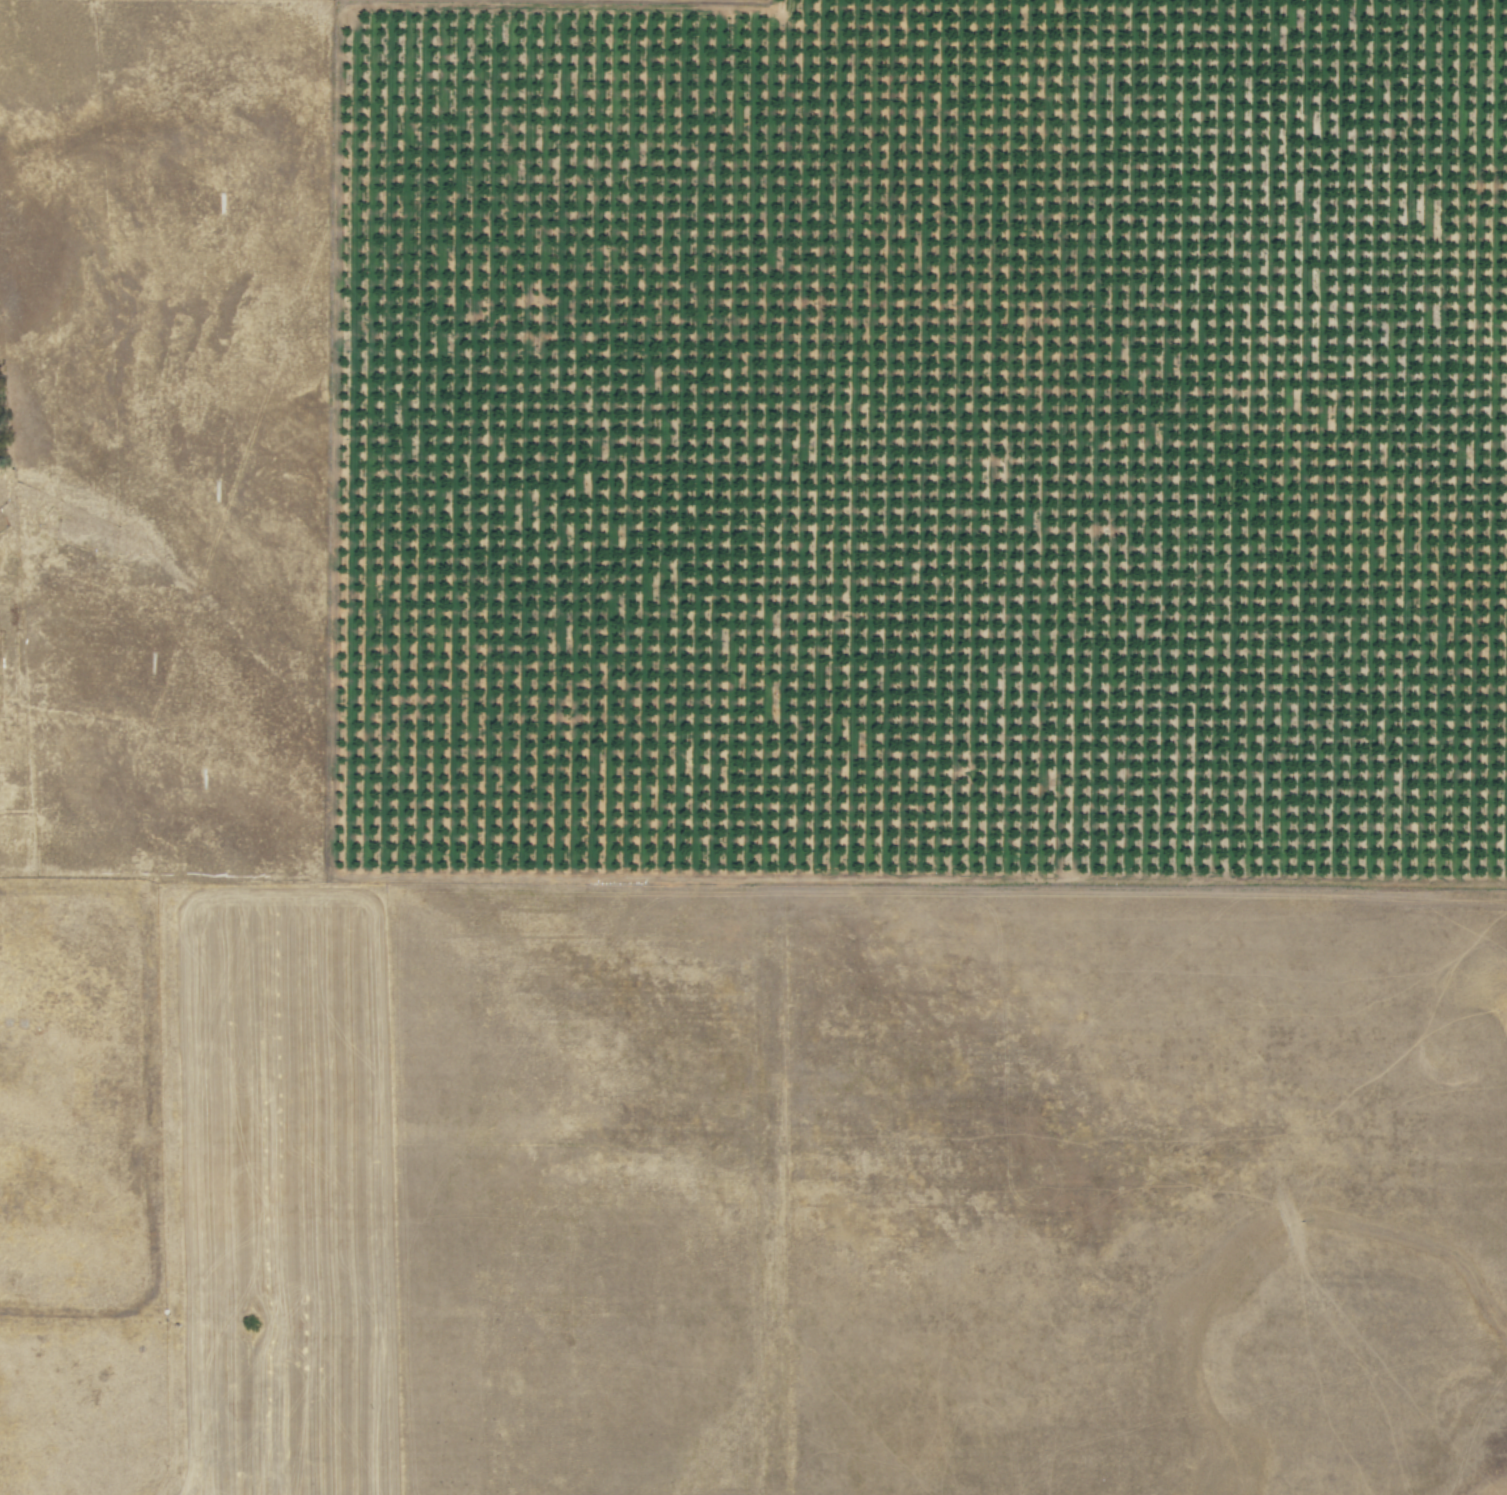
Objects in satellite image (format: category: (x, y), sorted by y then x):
road: (61, 891)

